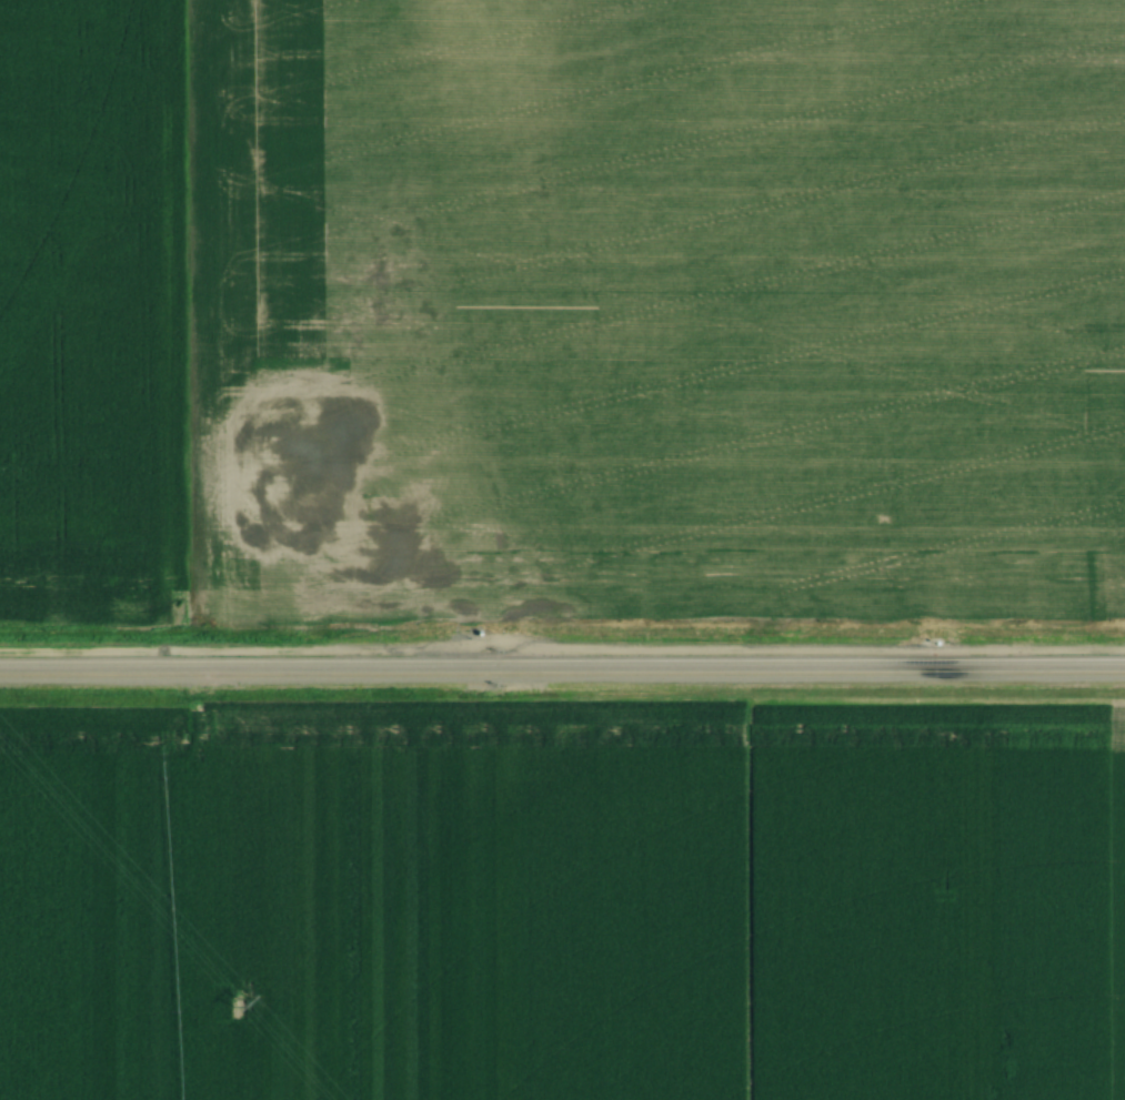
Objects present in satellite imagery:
railway: (562, 659)
railway: (562, 674)
power tower: (235, 1003)

